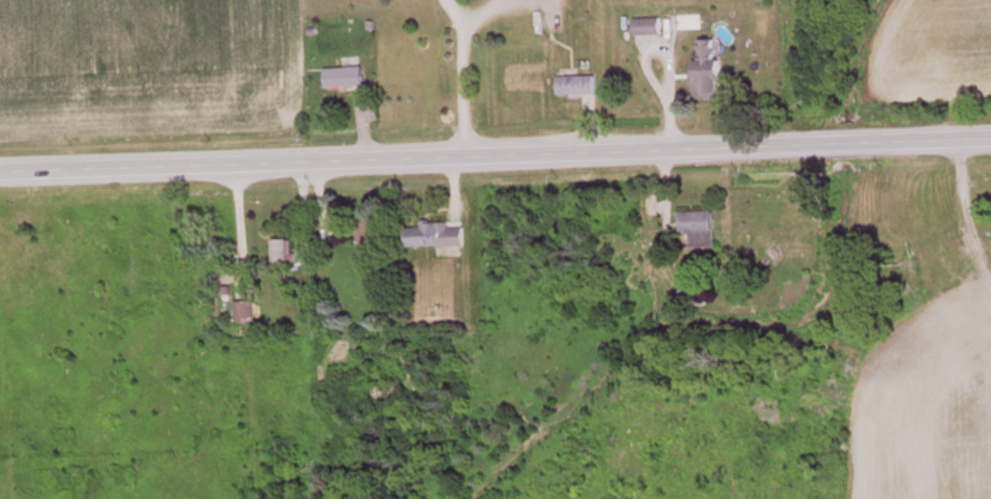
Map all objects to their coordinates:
building: (649, 29)
building: (709, 73)
building: (344, 79)
building: (578, 87)
road: (495, 152)
building: (699, 231)
building: (372, 237)
building: (436, 237)
building: (285, 255)
building: (245, 312)

